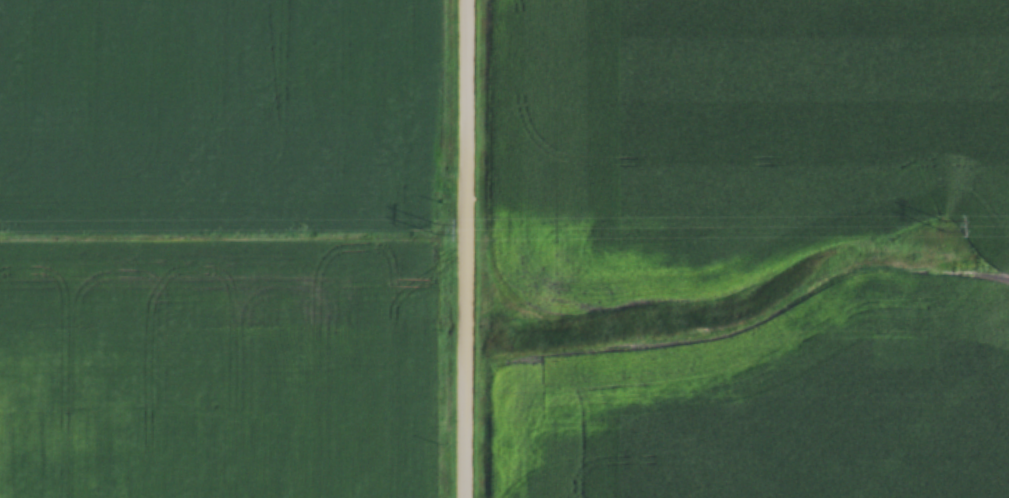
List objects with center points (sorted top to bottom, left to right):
power tower: (939, 227)
power tower: (436, 230)
road: (466, 249)

